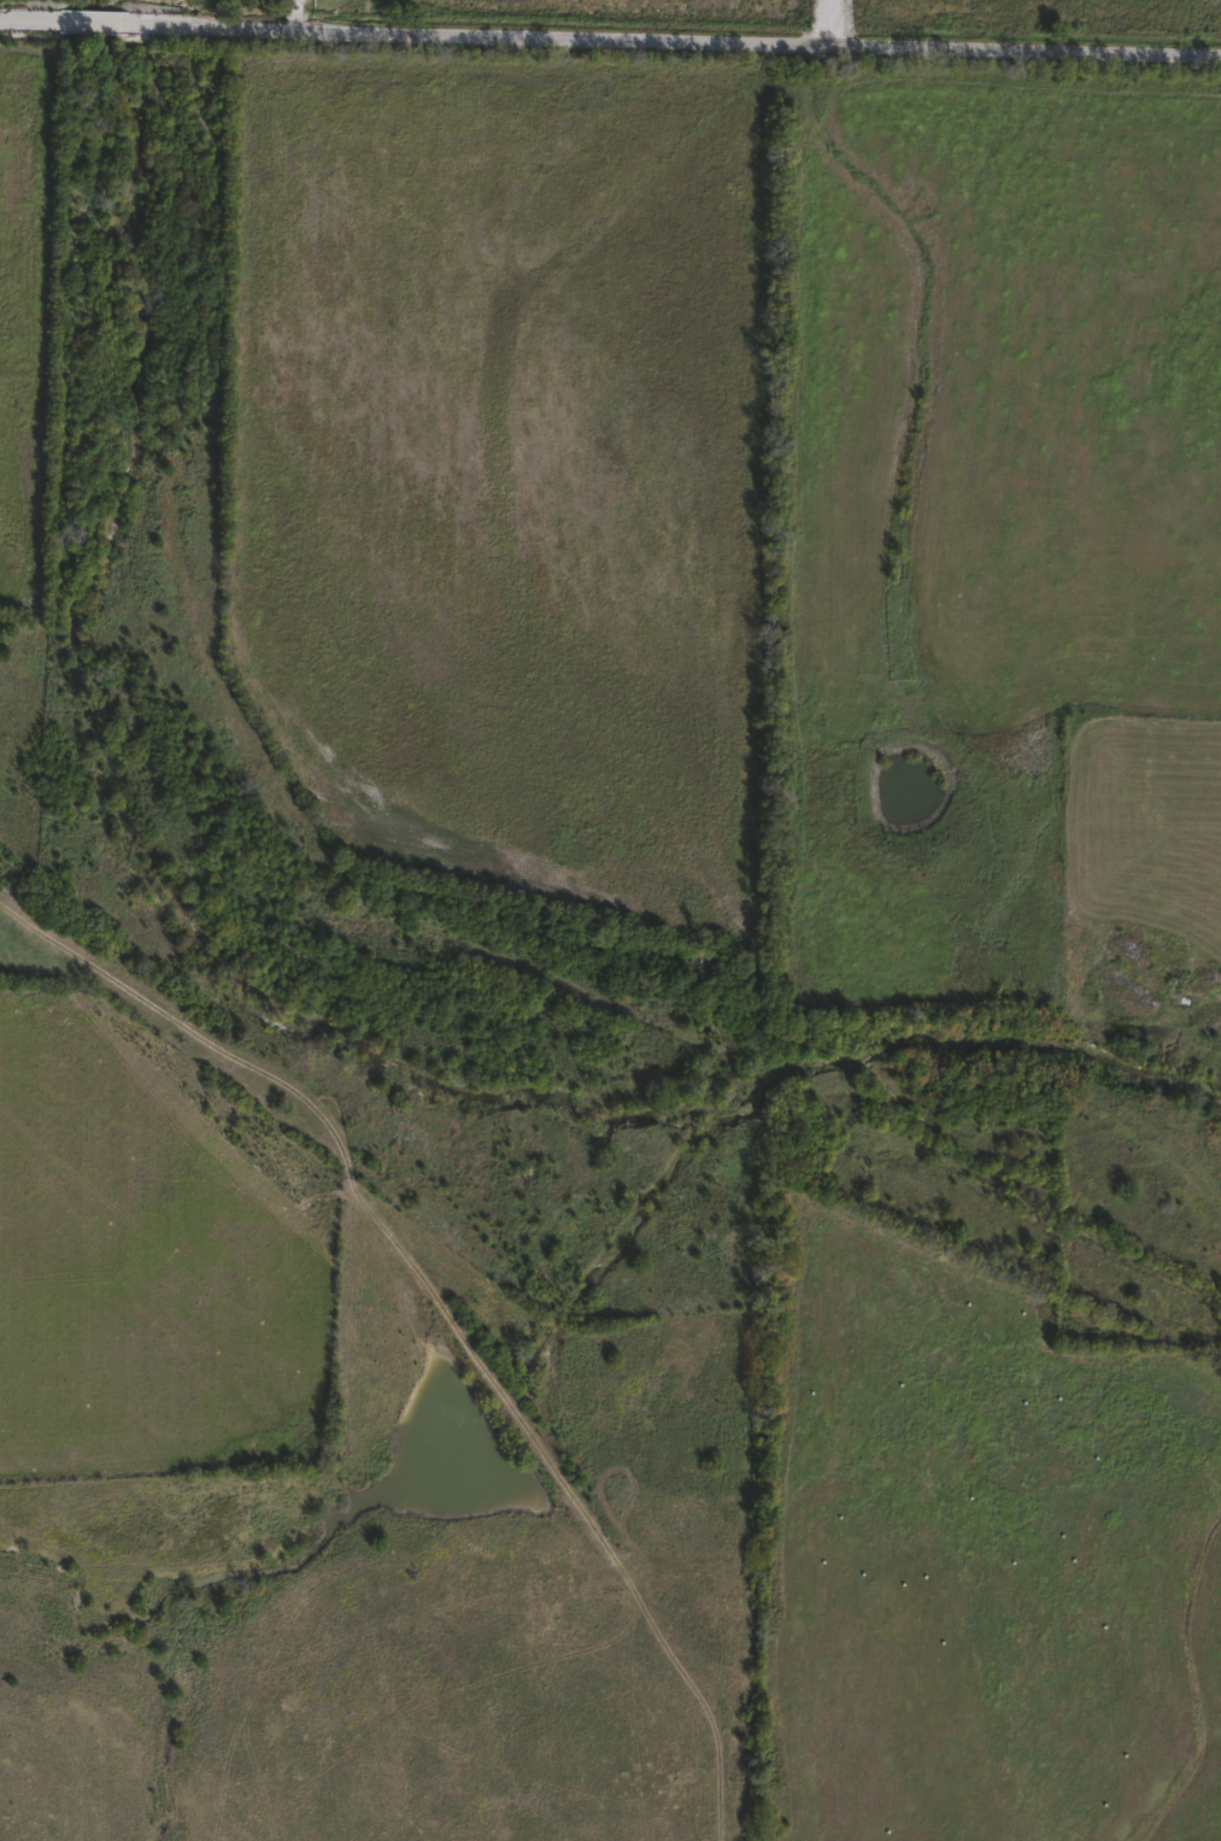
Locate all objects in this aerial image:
road: (830, 20)
road: (610, 34)

